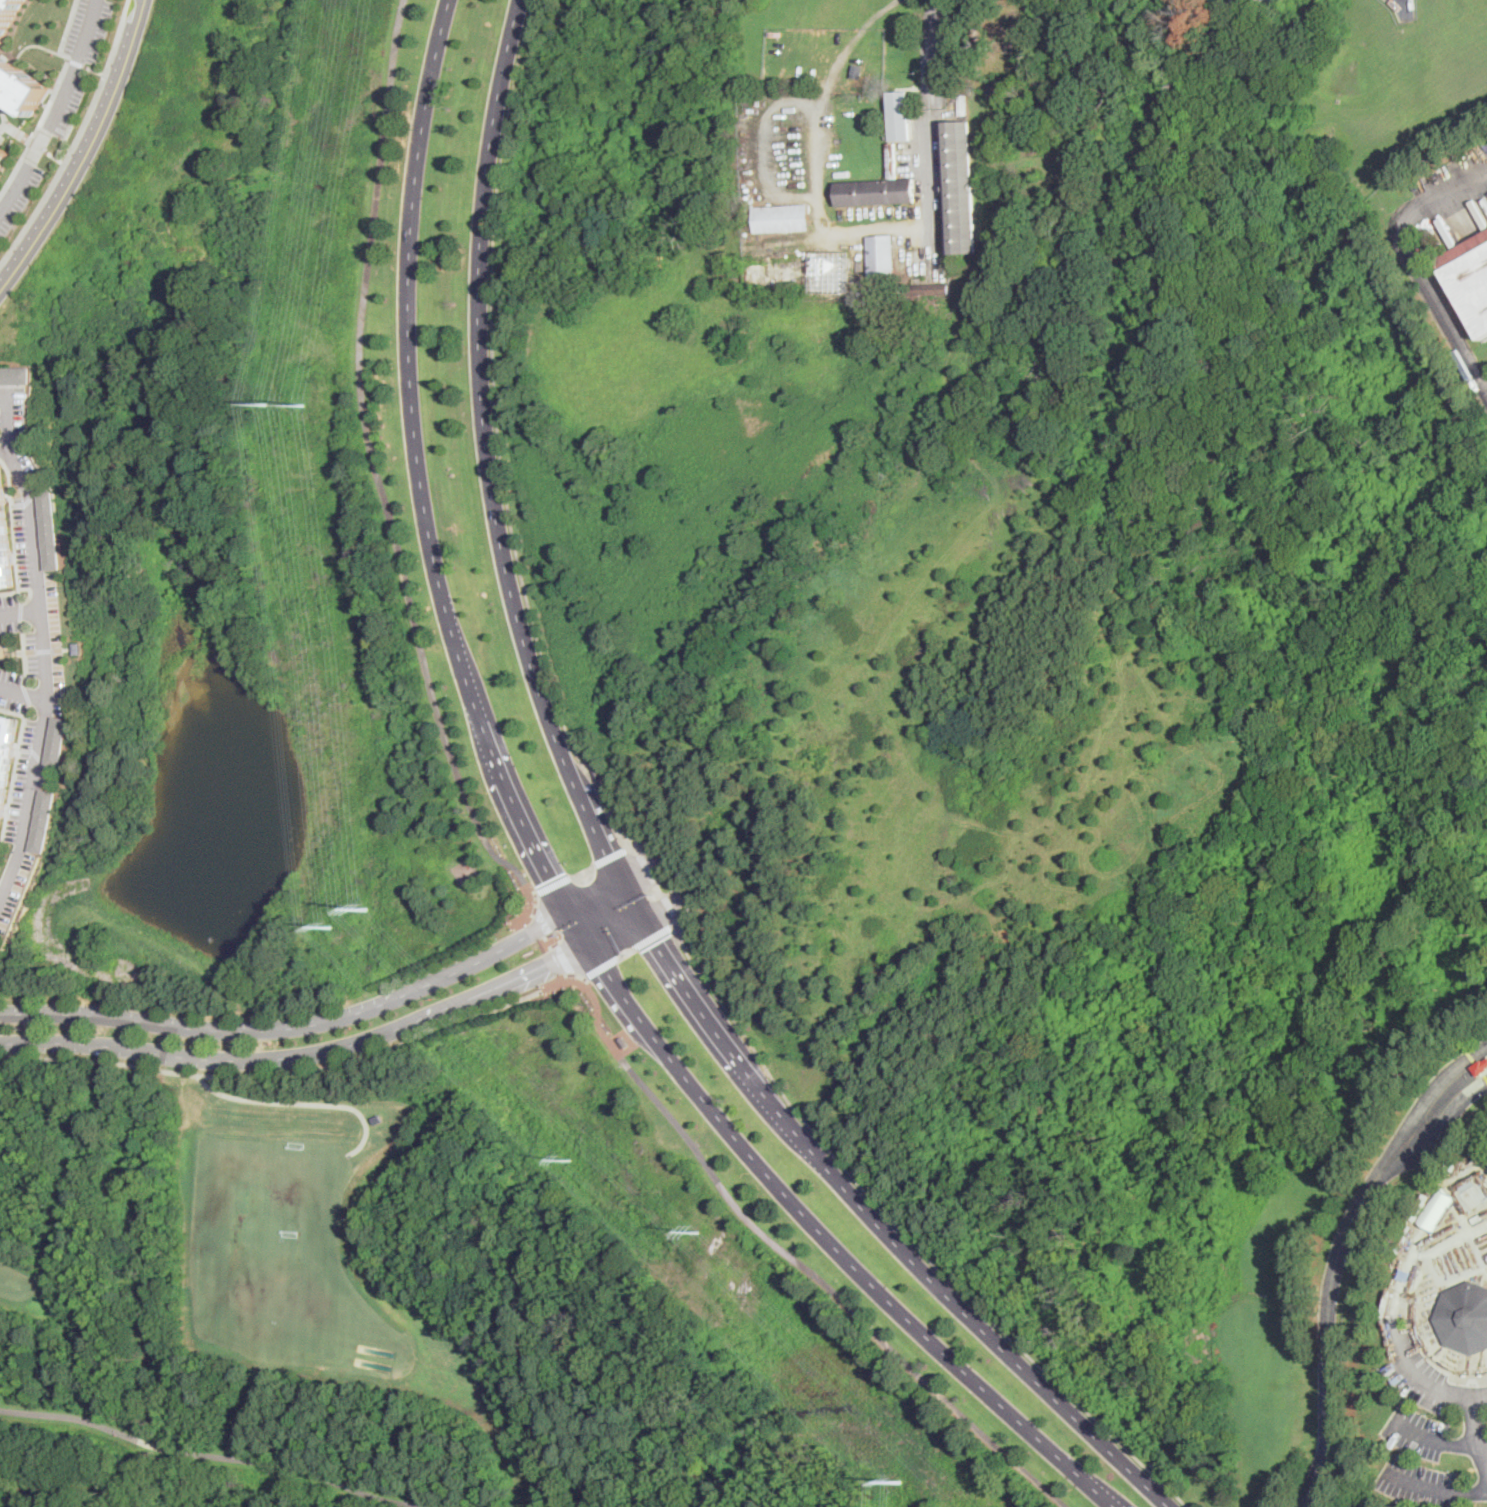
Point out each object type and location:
parking lot: (1243, 1)
building: (7, 13)
building: (1024, 40)
road: (25, 46)
road: (77, 63)
building: (856, 70)
road: (97, 71)
park: (45, 78)
building: (1029, 86)
building: (20, 88)
road: (53, 97)
parking lot: (60, 100)
road: (45, 103)
building: (963, 105)
road: (58, 110)
building: (899, 116)
road: (3, 124)
road: (10, 126)
road: (3, 127)
road: (928, 129)
road: (78, 138)
road: (30, 140)
parking lot: (78, 140)
road: (39, 145)
road: (764, 145)
road: (89, 152)
road: (820, 152)
building: (2, 154)
road: (57, 156)
building: (877, 188)
building: (959, 188)
road: (1438, 194)
building: (782, 218)
building: (881, 263)
building: (829, 271)
building: (1470, 277)
building: (899, 290)
building: (927, 290)
road: (1441, 314)
building: (16, 374)
power tower: (267, 404)
power tower: (304, 408)
parking lot: (0, 420)
parking lot: (26, 436)
road: (500, 446)
road: (8, 449)
road: (486, 452)
road: (376, 469)
road: (28, 502)
building: (50, 529)
road: (15, 532)
building: (5, 541)
parking lot: (22, 541)
road: (28, 596)
parking lot: (9, 599)
road: (20, 609)
parking lot: (54, 609)
road: (19, 611)
parking lot: (8, 626)
parking lot: (30, 639)
road: (41, 645)
building: (78, 647)
road: (63, 649)
road: (43, 650)
park: (10, 651)
road: (23, 651)
road: (29, 651)
parking lot: (31, 665)
parking lot: (10, 676)
parking lot: (59, 682)
road: (22, 693)
road: (24, 693)
parking lot: (12, 703)
road: (26, 709)
building: (57, 741)
road: (34, 752)
building: (6, 757)
road: (51, 766)
building: (597, 773)
parking lot: (49, 775)
parking lot: (21, 777)
road: (14, 778)
building: (45, 820)
road: (537, 852)
road: (612, 855)
road: (583, 870)
road: (642, 875)
traffic signals: (551, 879)
road: (554, 884)
road: (657, 886)
parking lot: (20, 891)
road: (534, 894)
road: (630, 903)
road: (659, 908)
power tower: (369, 910)
power tower: (332, 926)
road: (553, 941)
traffic signals: (654, 943)
road: (629, 953)
traffic signals: (556, 960)
road: (324, 1021)
building: (624, 1043)
road: (332, 1048)
building: (1480, 1068)
road: (297, 1071)
road: (305, 1102)
road: (1423, 1106)
building: (379, 1119)
road: (1437, 1137)
power tower: (572, 1160)
building: (1435, 1207)
road: (900, 1229)
road: (883, 1230)
power tower: (698, 1233)
road: (1435, 1248)
road: (793, 1259)
building: (1464, 1317)
road: (1327, 1338)
road: (1443, 1367)
road: (1473, 1371)
road: (1432, 1385)
road: (72, 1417)
road: (1473, 1421)
parking lot: (1432, 1430)
road: (1438, 1441)
road: (151, 1443)
road: (303, 1468)
power tower: (902, 1483)
road: (1429, 1487)

